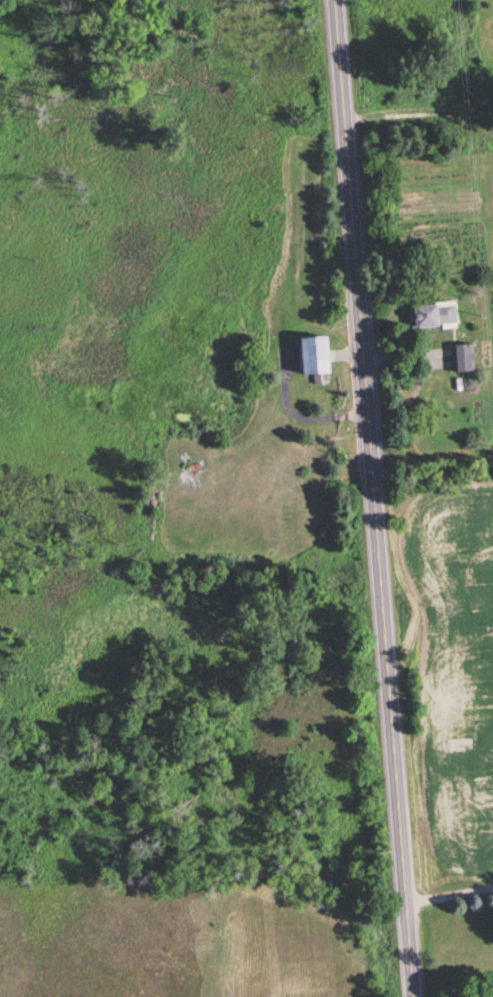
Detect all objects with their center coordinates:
building: (433, 313)
building: (312, 353)
building: (462, 355)
road: (376, 498)
crop: (453, 657)
road: (449, 887)

